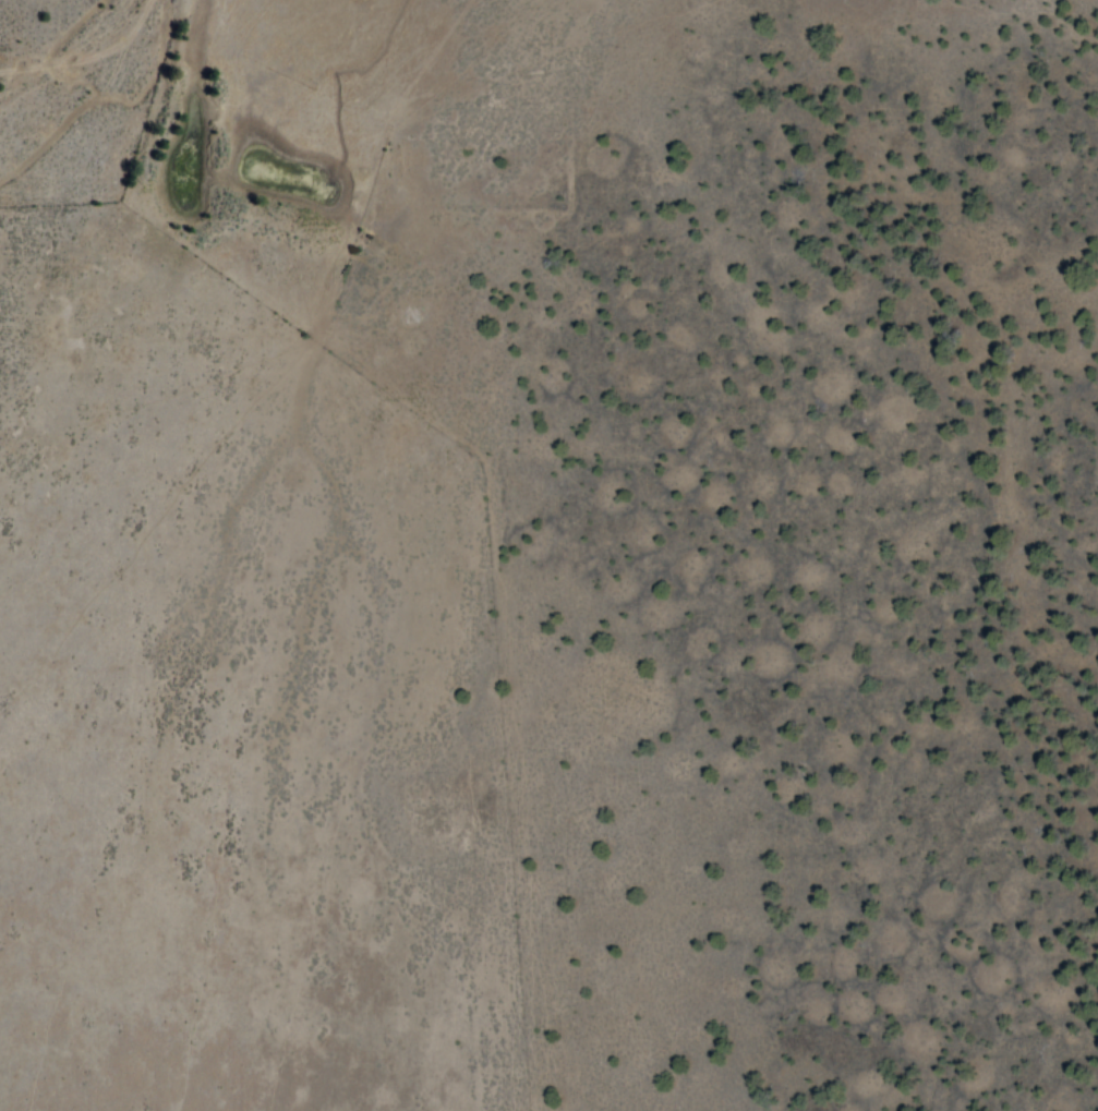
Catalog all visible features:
road: (52, 65)
road: (94, 65)

